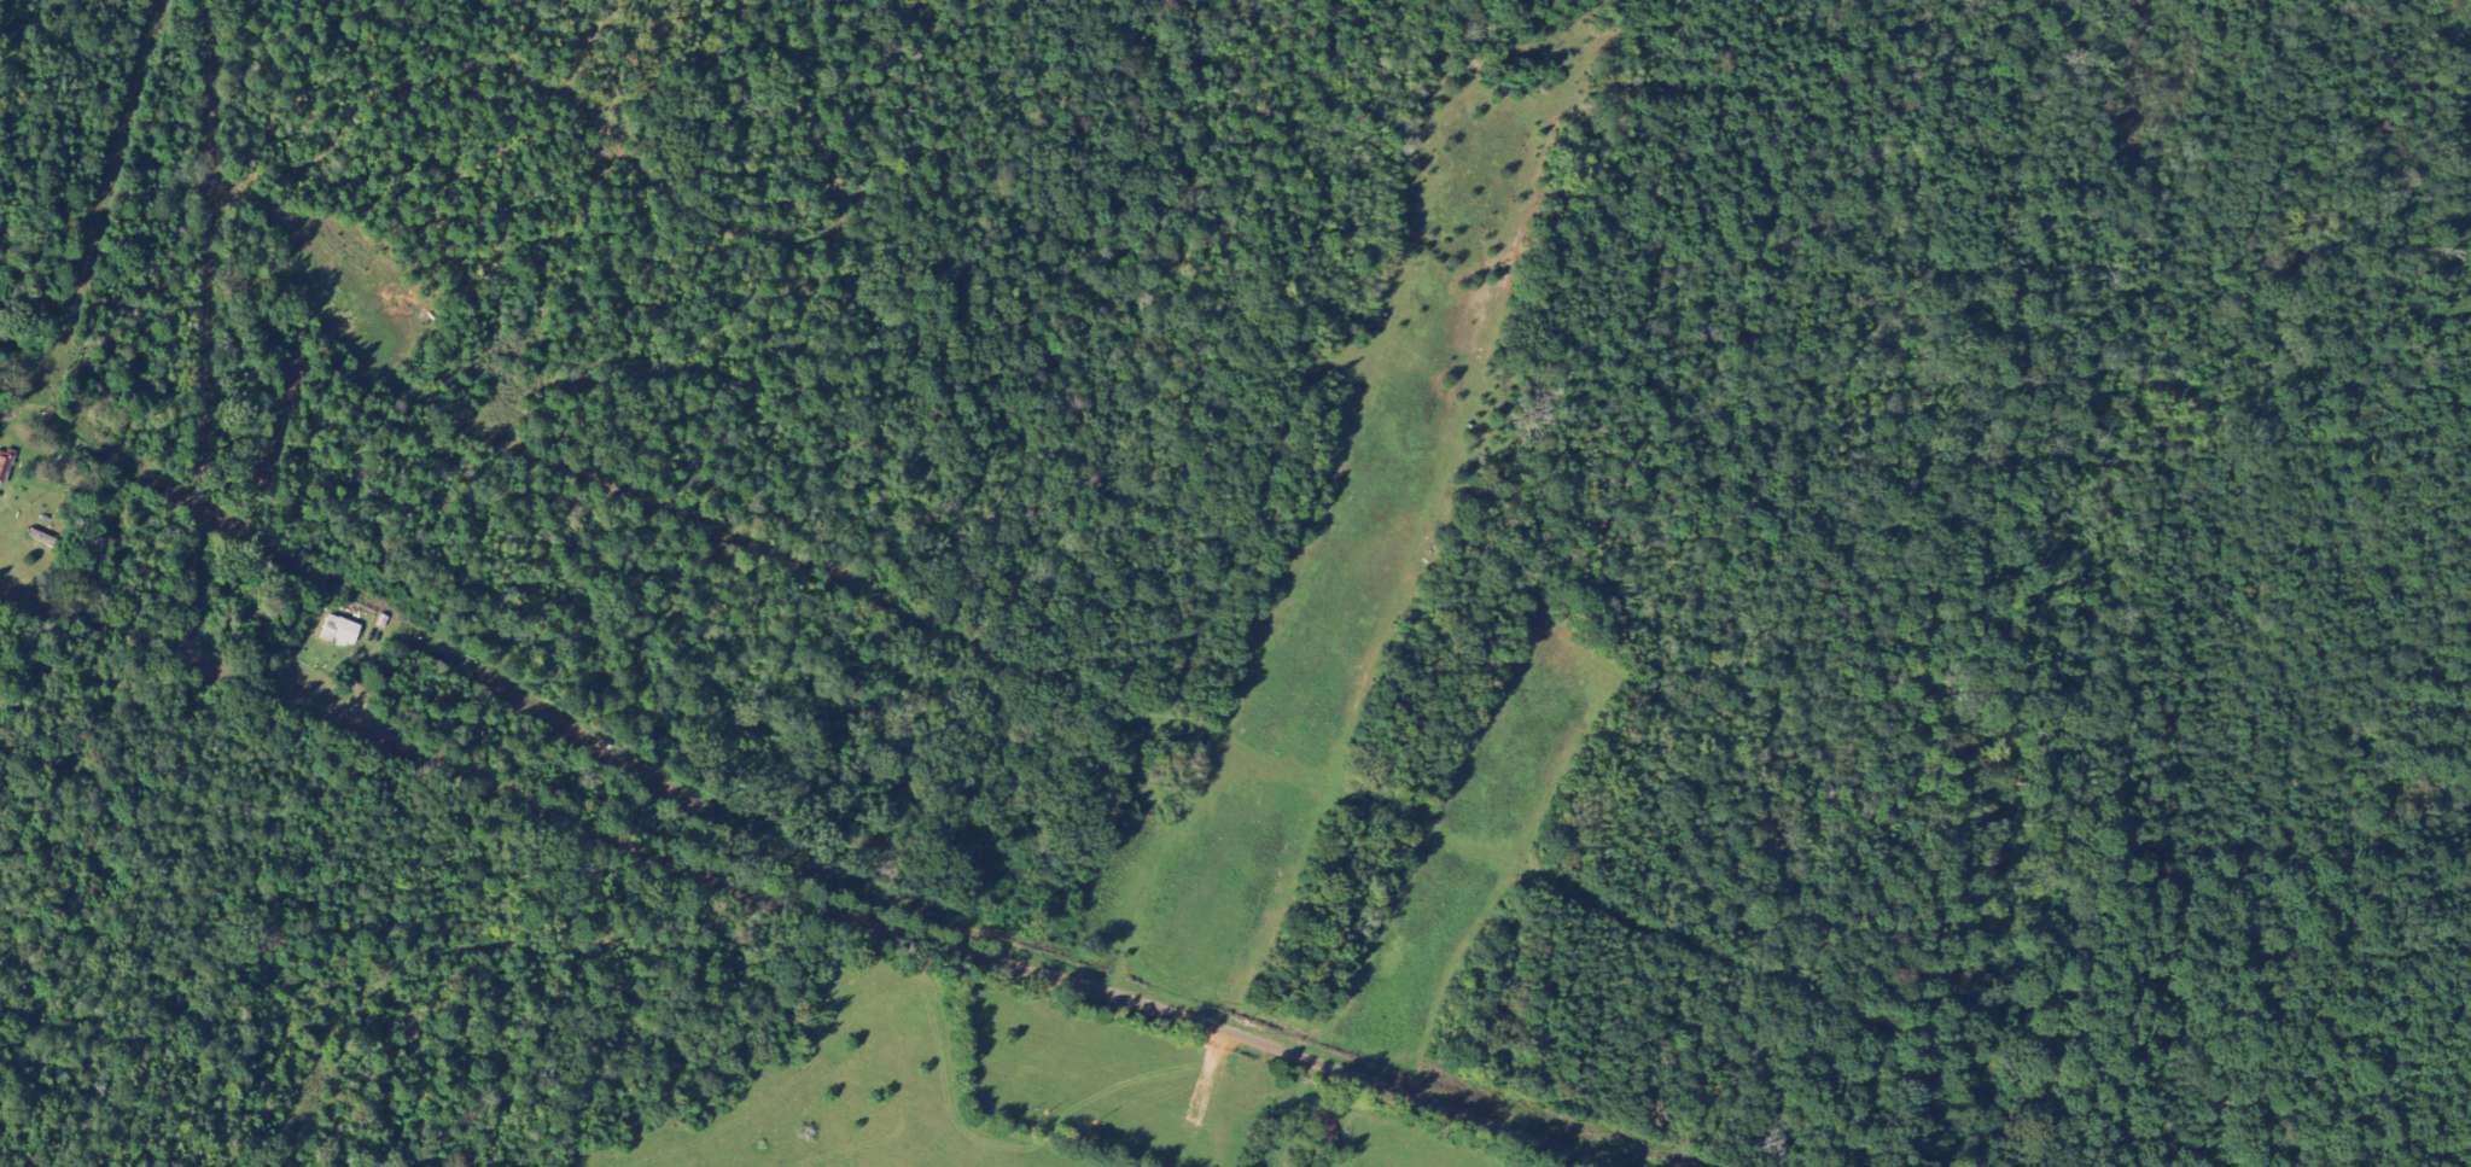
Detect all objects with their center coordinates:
road: (175, 327)
building: (345, 630)
road: (733, 898)

